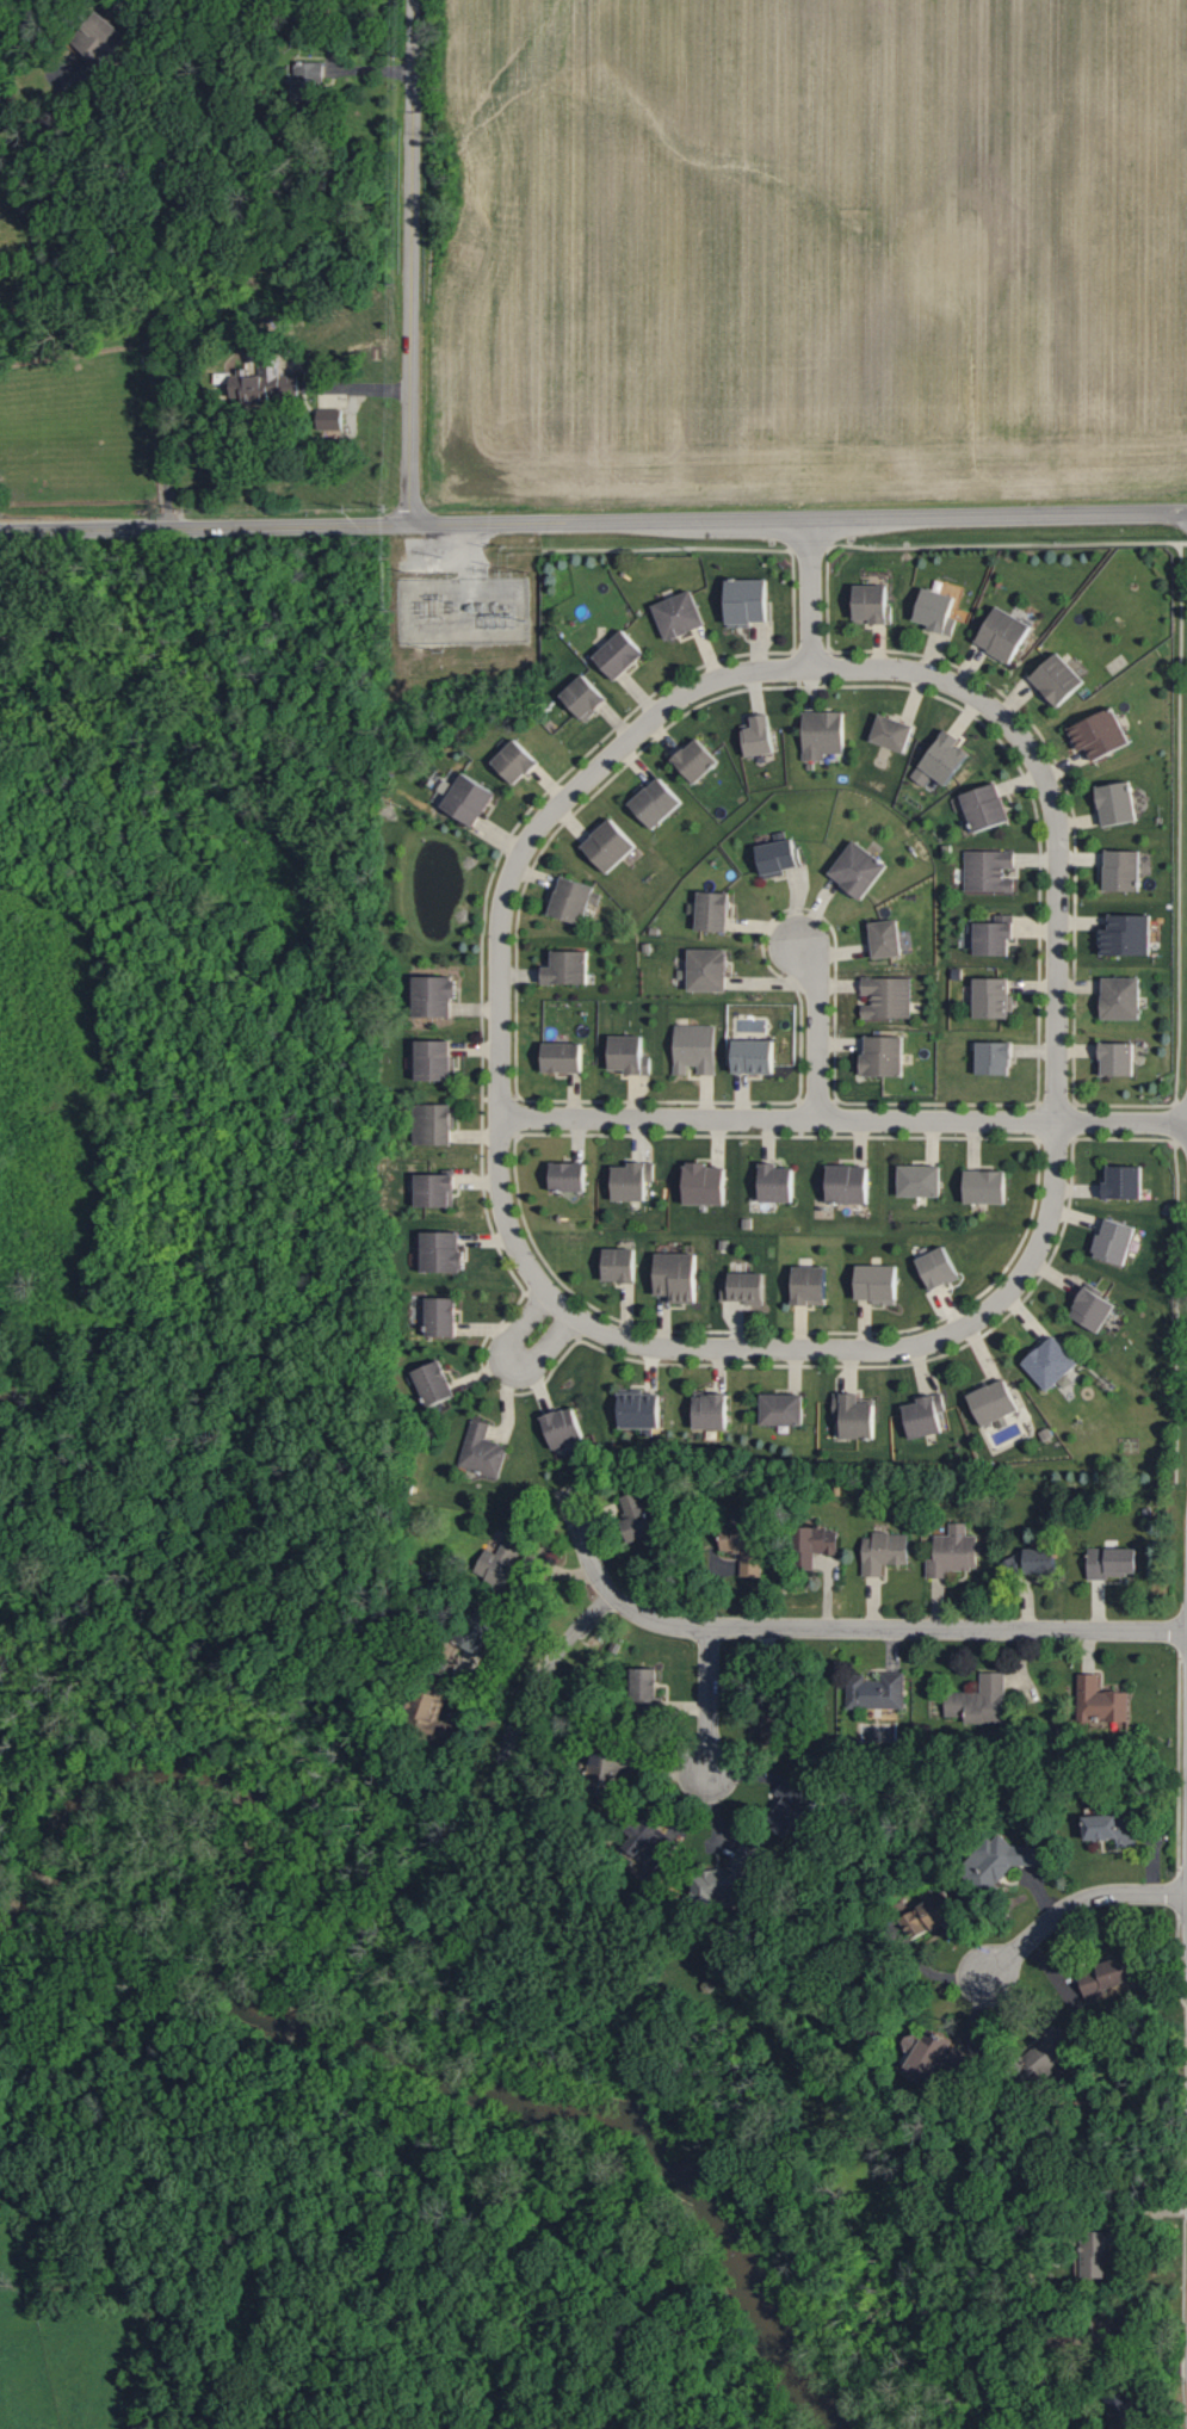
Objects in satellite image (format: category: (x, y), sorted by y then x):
building: (101, 36)
building: (308, 80)
road: (410, 261)
road: (157, 309)
road: (346, 382)
building: (266, 383)
building: (332, 419)
road: (593, 523)
road: (810, 593)
building: (750, 600)
building: (874, 602)
building: (938, 610)
building: (681, 614)
building: (1006, 633)
building: (622, 655)
road: (808, 667)
building: (1059, 680)
building: (585, 697)
building: (895, 733)
building: (824, 734)
building: (1102, 734)
building: (761, 736)
building: (699, 760)
building: (946, 760)
building: (518, 762)
building: (471, 799)
building: (659, 803)
building: (1119, 803)
building: (988, 808)
building: (612, 845)
building: (779, 857)
building: (860, 870)
building: (1125, 870)
building: (989, 871)
building: (574, 900)
building: (715, 911)
building: (996, 935)
building: (1130, 935)
building: (888, 938)
building: (570, 968)
building: (710, 969)
building: (435, 996)
building: (889, 997)
building: (994, 997)
building: (1124, 997)
road: (821, 1030)
building: (697, 1049)
building: (630, 1055)
building: (886, 1056)
building: (564, 1057)
building: (758, 1057)
building: (996, 1058)
building: (1120, 1059)
building: (435, 1061)
road: (843, 1121)
building: (433, 1124)
building: (570, 1176)
building: (922, 1181)
building: (778, 1183)
building: (1126, 1183)
building: (707, 1185)
building: (851, 1185)
building: (989, 1187)
building: (437, 1191)
building: (1117, 1242)
building: (445, 1253)
building: (622, 1266)
building: (941, 1268)
building: (680, 1277)
building: (880, 1283)
building: (812, 1286)
building: (746, 1287)
building: (1095, 1309)
building: (444, 1317)
road: (777, 1353)
road: (512, 1360)
building: (1053, 1364)
building: (437, 1385)
building: (996, 1403)
building: (785, 1410)
building: (642, 1411)
building: (713, 1413)
building: (855, 1416)
building: (926, 1417)
building: (565, 1429)
building: (483, 1451)
building: (638, 1516)
building: (956, 1534)
building: (824, 1535)
road: (836, 1628)
road: (546, 1665)
building: (642, 1687)
building: (876, 1692)
road: (709, 1698)
building: (978, 1702)
building: (1100, 1704)
building: (431, 1714)
building: (772, 1728)
building: (601, 1779)
building: (786, 1809)
building: (1109, 1831)
building: (645, 1846)
building: (1002, 1864)
building: (719, 1886)
road: (1075, 1903)
building: (928, 1918)
building: (1107, 1984)
building: (920, 2058)
building: (1099, 2251)

